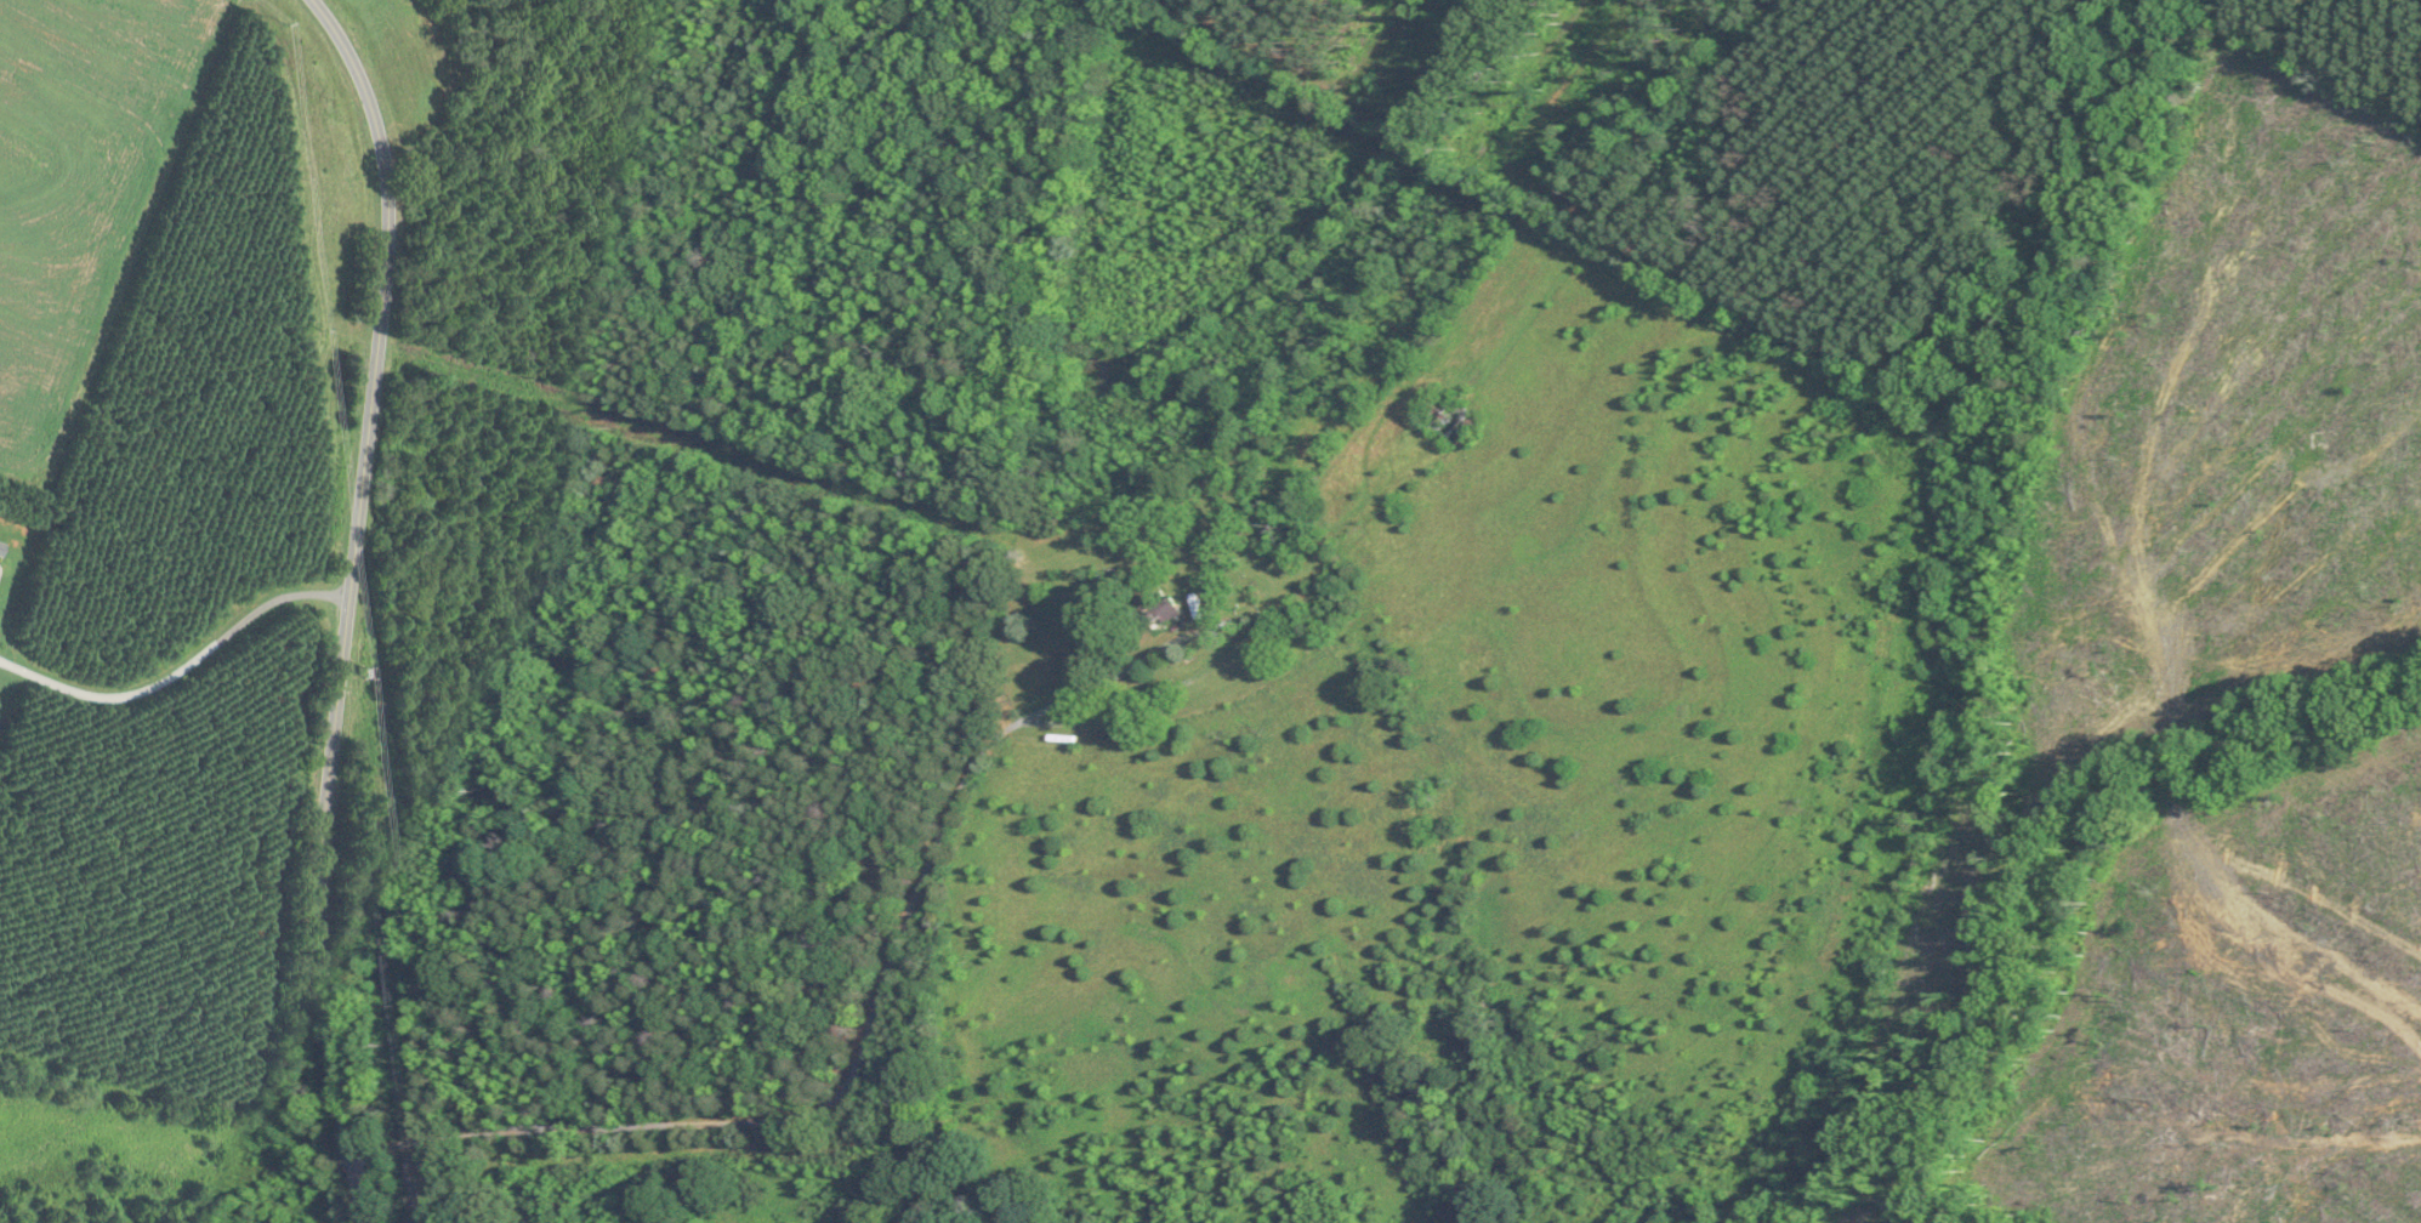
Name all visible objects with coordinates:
building: (1450, 417)
building: (0, 546)
road: (358, 604)
building: (1159, 610)
road: (183, 667)
road: (841, 1085)

